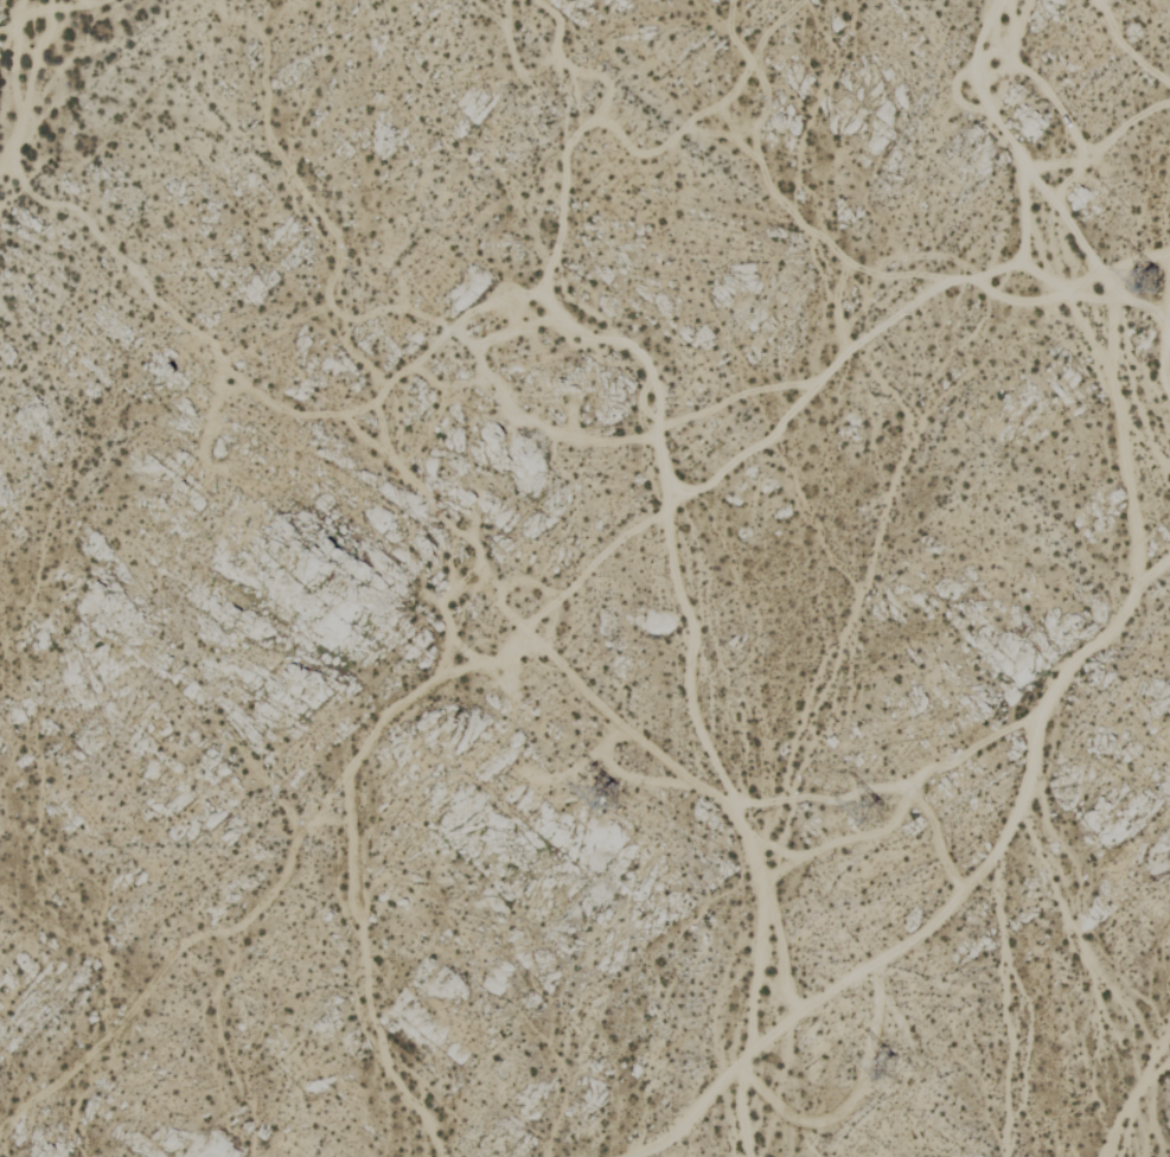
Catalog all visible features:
power tower: (1150, 280)
power tower: (616, 788)
power tower: (884, 810)
road: (952, 897)
power tower: (921, 1062)

